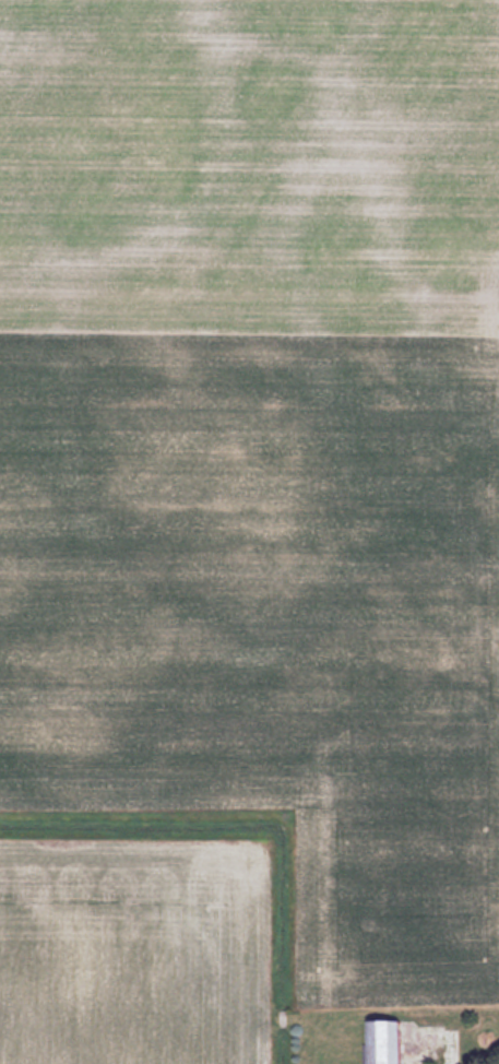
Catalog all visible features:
building: (390, 1042)
building: (453, 1047)

